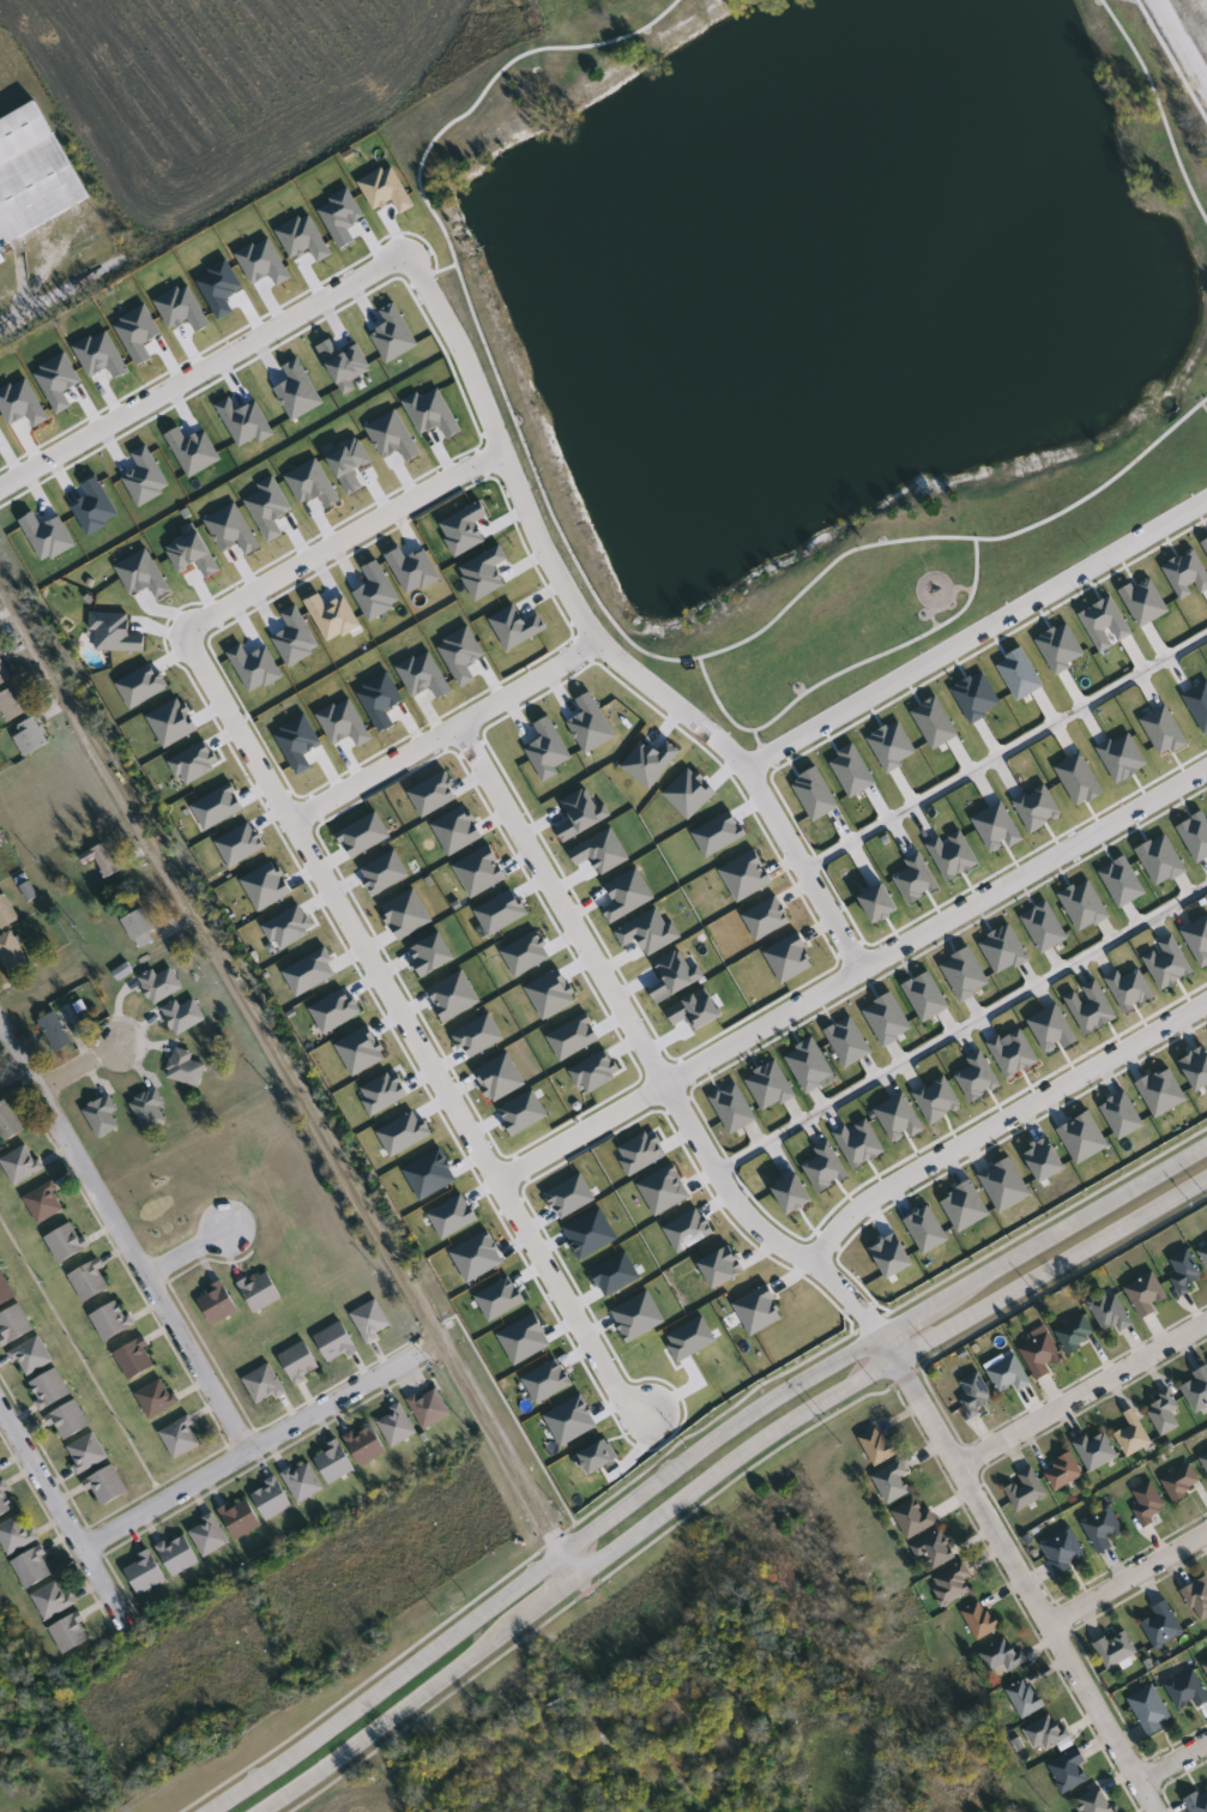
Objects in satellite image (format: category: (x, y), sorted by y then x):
road: (1185, 37)
road: (1159, 107)
building: (870, 162)
building: (34, 177)
road: (58, 295)
road: (436, 301)
road: (1203, 404)
road: (579, 566)
road: (977, 631)
road: (844, 668)
building: (4, 674)
building: (13, 705)
road: (446, 733)
building: (30, 738)
road: (759, 741)
road: (1006, 750)
road: (791, 845)
building: (102, 860)
road: (316, 866)
building: (7, 913)
building: (139, 927)
building: (12, 955)
road: (851, 974)
building: (162, 985)
building: (183, 1016)
road: (961, 1027)
building: (56, 1033)
road: (85, 1066)
building: (186, 1068)
road: (288, 1077)
building: (0, 1091)
building: (150, 1109)
building: (103, 1116)
road: (684, 1116)
road: (1000, 1119)
building: (10, 1122)
building: (22, 1164)
building: (44, 1203)
road: (125, 1235)
building: (66, 1244)
road: (192, 1251)
building: (1203, 1253)
building: (1185, 1271)
building: (90, 1280)
building: (5, 1292)
building: (261, 1292)
building: (1147, 1294)
building: (218, 1304)
building: (1111, 1312)
building: (111, 1320)
building: (372, 1320)
building: (14, 1325)
building: (1075, 1334)
building: (337, 1343)
building: (1040, 1352)
building: (32, 1358)
building: (135, 1360)
building: (301, 1362)
building: (1009, 1375)
building: (264, 1385)
building: (50, 1390)
building: (1197, 1390)
building: (976, 1393)
road: (1082, 1393)
building: (157, 1398)
building: (430, 1408)
building: (1165, 1413)
building: (70, 1421)
building: (397, 1426)
building: (1134, 1433)
building: (181, 1438)
road: (261, 1445)
building: (367, 1445)
building: (879, 1446)
building: (1098, 1451)
building: (86, 1453)
road: (693, 1456)
building: (1205, 1461)
building: (334, 1463)
road: (717, 1471)
building: (1063, 1471)
building: (303, 1482)
building: (893, 1482)
building: (1183, 1483)
building: (107, 1486)
building: (1027, 1489)
building: (272, 1500)
building: (6, 1501)
building: (1149, 1504)
road: (64, 1518)
building: (241, 1518)
building: (915, 1518)
building: (1104, 1529)
building: (16, 1535)
building: (209, 1536)
road: (1004, 1545)
building: (934, 1551)
building: (1064, 1551)
building: (179, 1555)
building: (34, 1569)
building: (146, 1573)
road: (1128, 1577)
building: (953, 1584)
building: (1199, 1599)
building: (54, 1601)
building: (980, 1620)
building: (1164, 1626)
building: (71, 1636)
building: (1117, 1650)
building: (1003, 1656)
building: (1206, 1666)
building: (1188, 1690)
building: (1027, 1698)
building: (562, 1708)
building: (1152, 1709)
road: (1104, 1717)
building: (1048, 1732)
road: (1173, 1760)
building: (1070, 1770)
building: (1094, 1801)
building: (1199, 1801)

